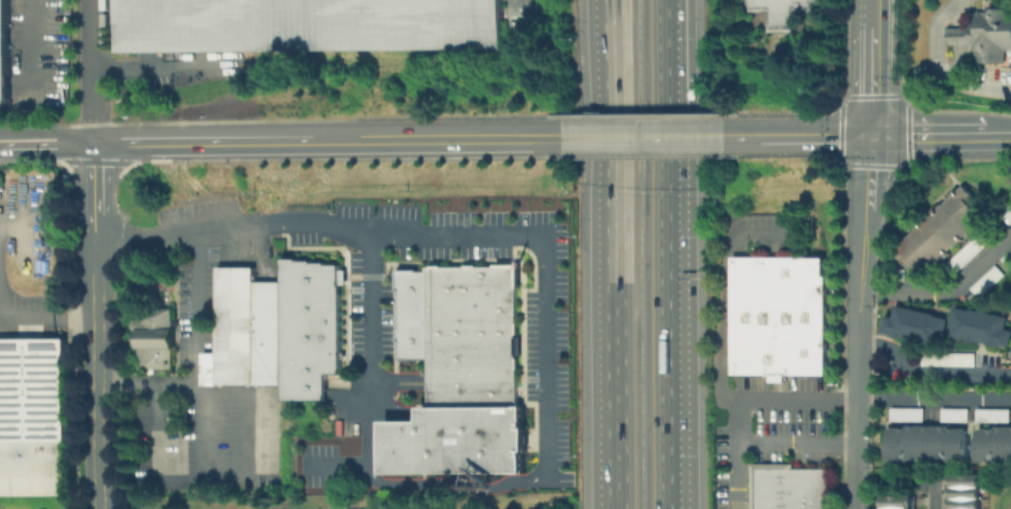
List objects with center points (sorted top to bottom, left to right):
road: (606, 11)
road: (609, 11)
building: (778, 11)
road: (876, 12)
road: (957, 16)
road: (515, 19)
building: (311, 25)
building: (985, 34)
road: (959, 35)
road: (40, 46)
building: (6, 52)
road: (958, 63)
road: (939, 67)
road: (96, 70)
road: (132, 72)
road: (875, 81)
road: (670, 87)
road: (997, 137)
road: (693, 138)
road: (800, 138)
traffic signals: (873, 138)
road: (928, 138)
road: (437, 139)
road: (610, 139)
road: (205, 140)
road: (48, 142)
building: (1008, 214)
road: (21, 220)
road: (529, 235)
building: (940, 235)
building: (969, 257)
flagpole: (530, 260)
building: (1008, 261)
road: (610, 265)
building: (987, 284)
road: (945, 289)
road: (728, 290)
parking lot: (197, 303)
building: (414, 311)
road: (195, 315)
building: (779, 316)
road: (49, 321)
road: (856, 323)
road: (98, 324)
building: (913, 324)
building: (310, 326)
building: (979, 326)
building: (245, 330)
building: (153, 336)
building: (472, 336)
road: (671, 342)
road: (373, 349)
building: (946, 358)
road: (928, 371)
road: (146, 384)
road: (393, 386)
road: (853, 399)
road: (359, 409)
building: (905, 413)
building: (953, 414)
building: (991, 414)
building: (32, 415)
parking lot: (774, 429)
building: (457, 440)
road: (761, 441)
parking lot: (207, 442)
building: (926, 442)
building: (992, 443)
road: (156, 454)
road: (340, 464)
road: (249, 478)
building: (963, 479)
building: (789, 487)
building: (963, 491)
road: (935, 493)
building: (897, 501)
building: (963, 503)
building: (897, 508)

